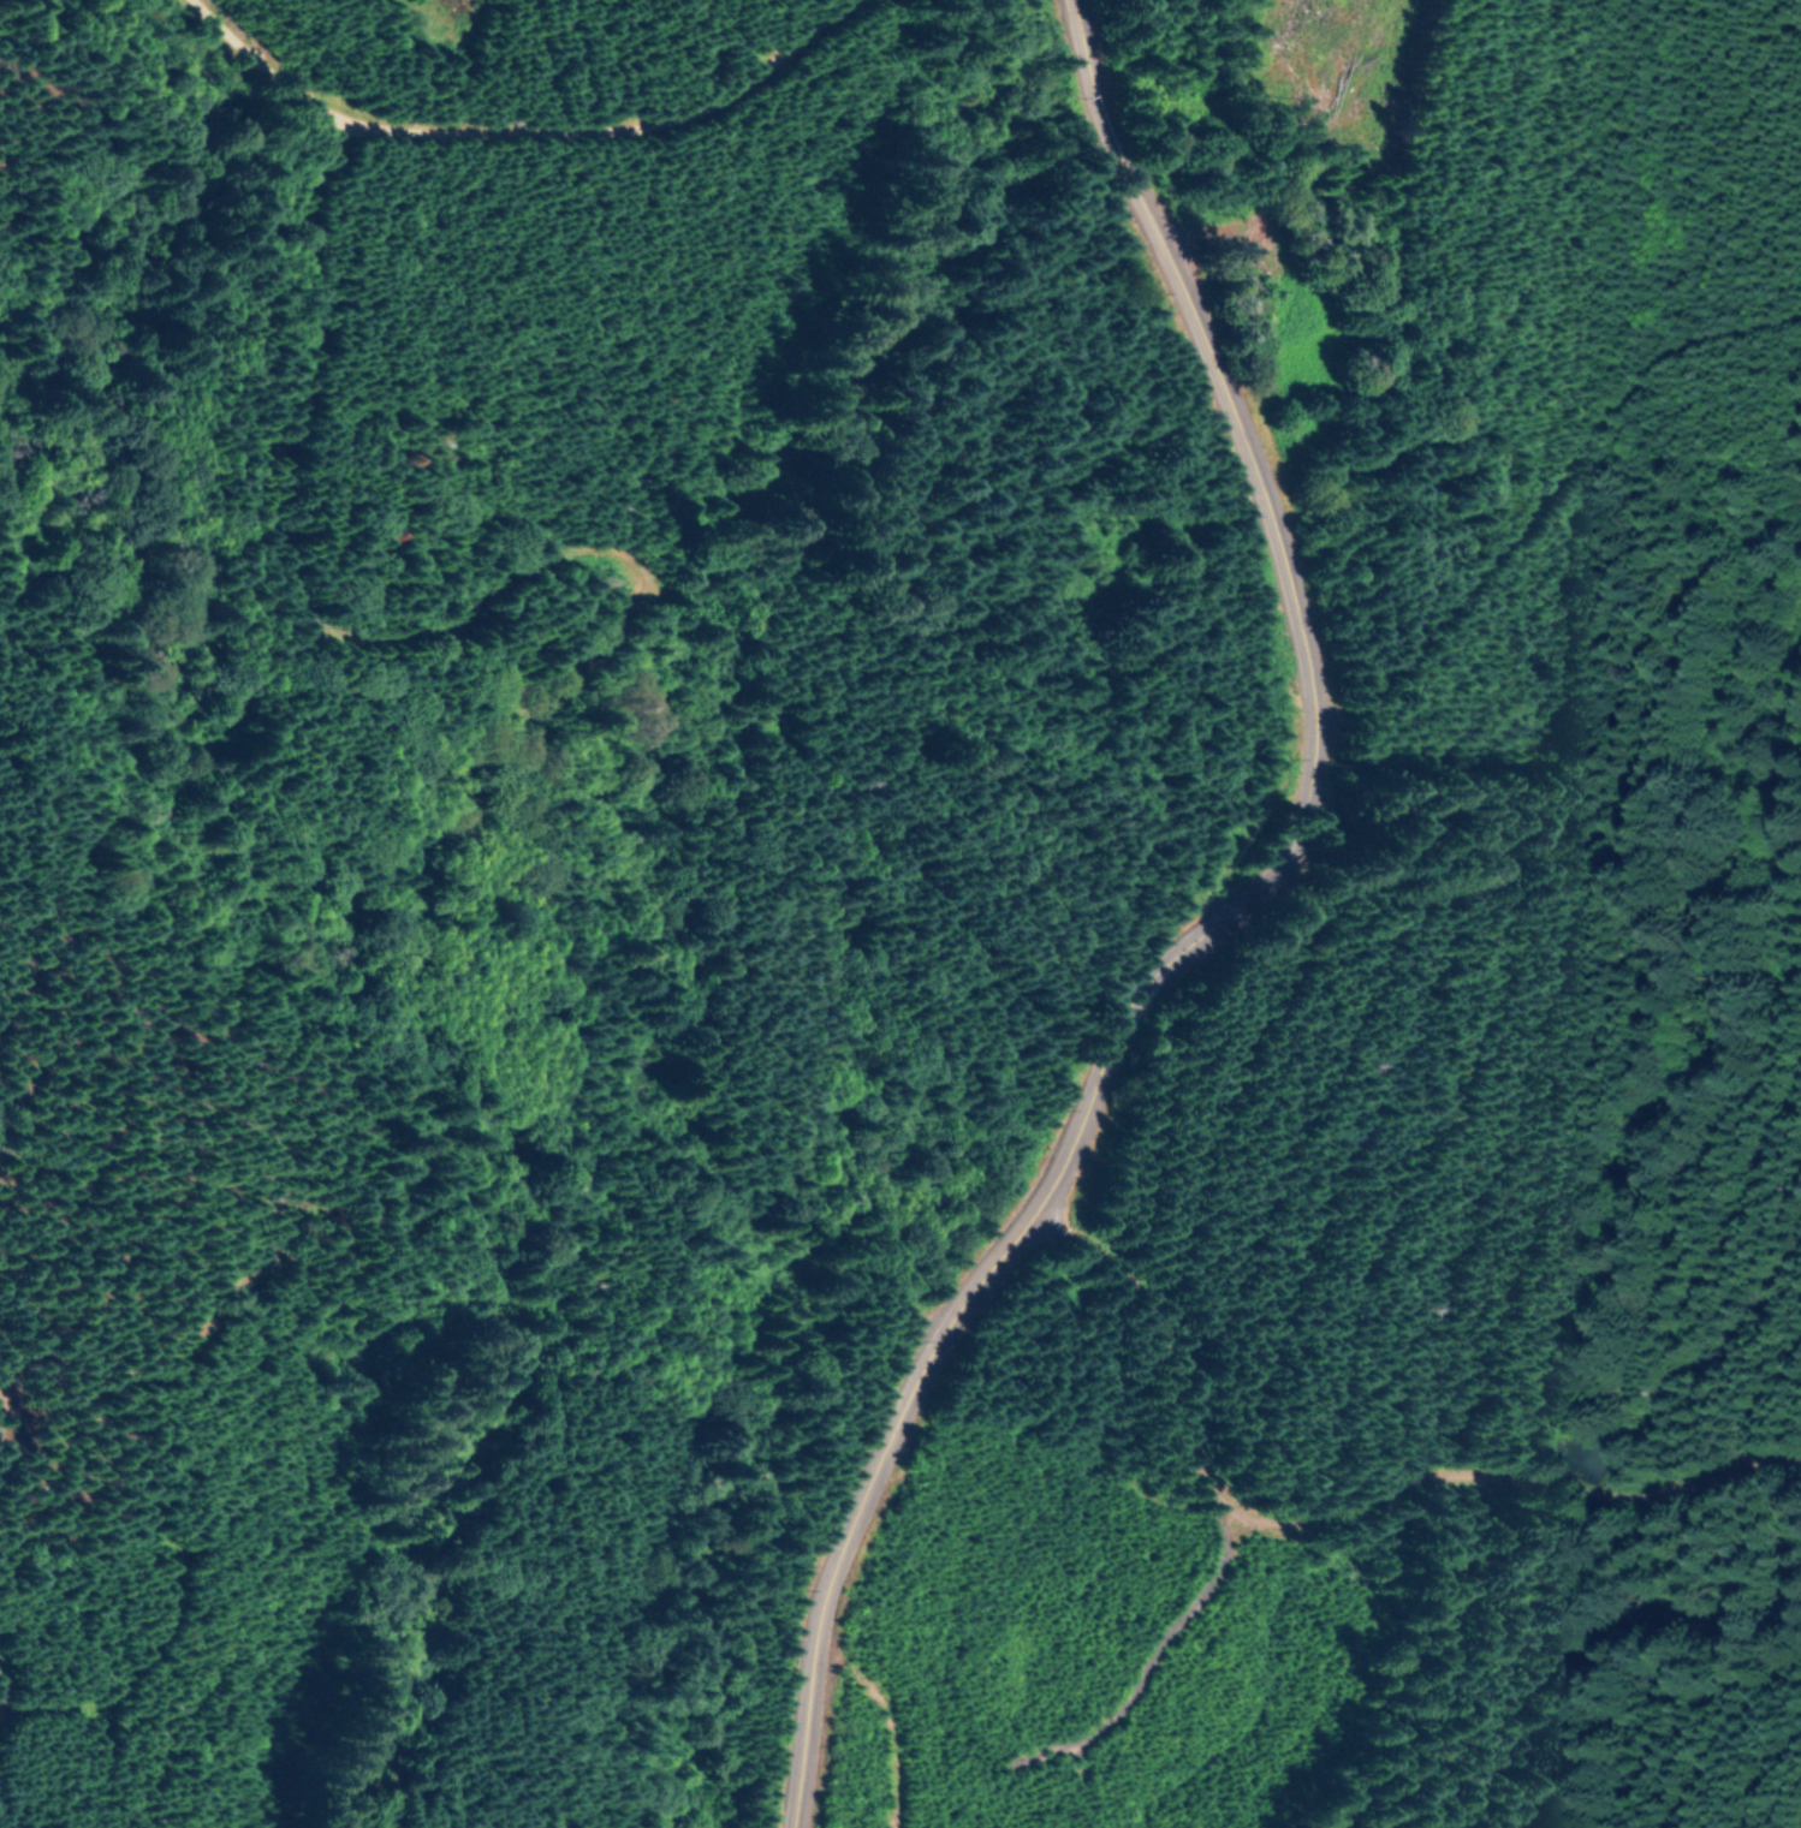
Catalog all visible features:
road: (500, 153)
road: (1549, 475)
road: (1252, 942)

